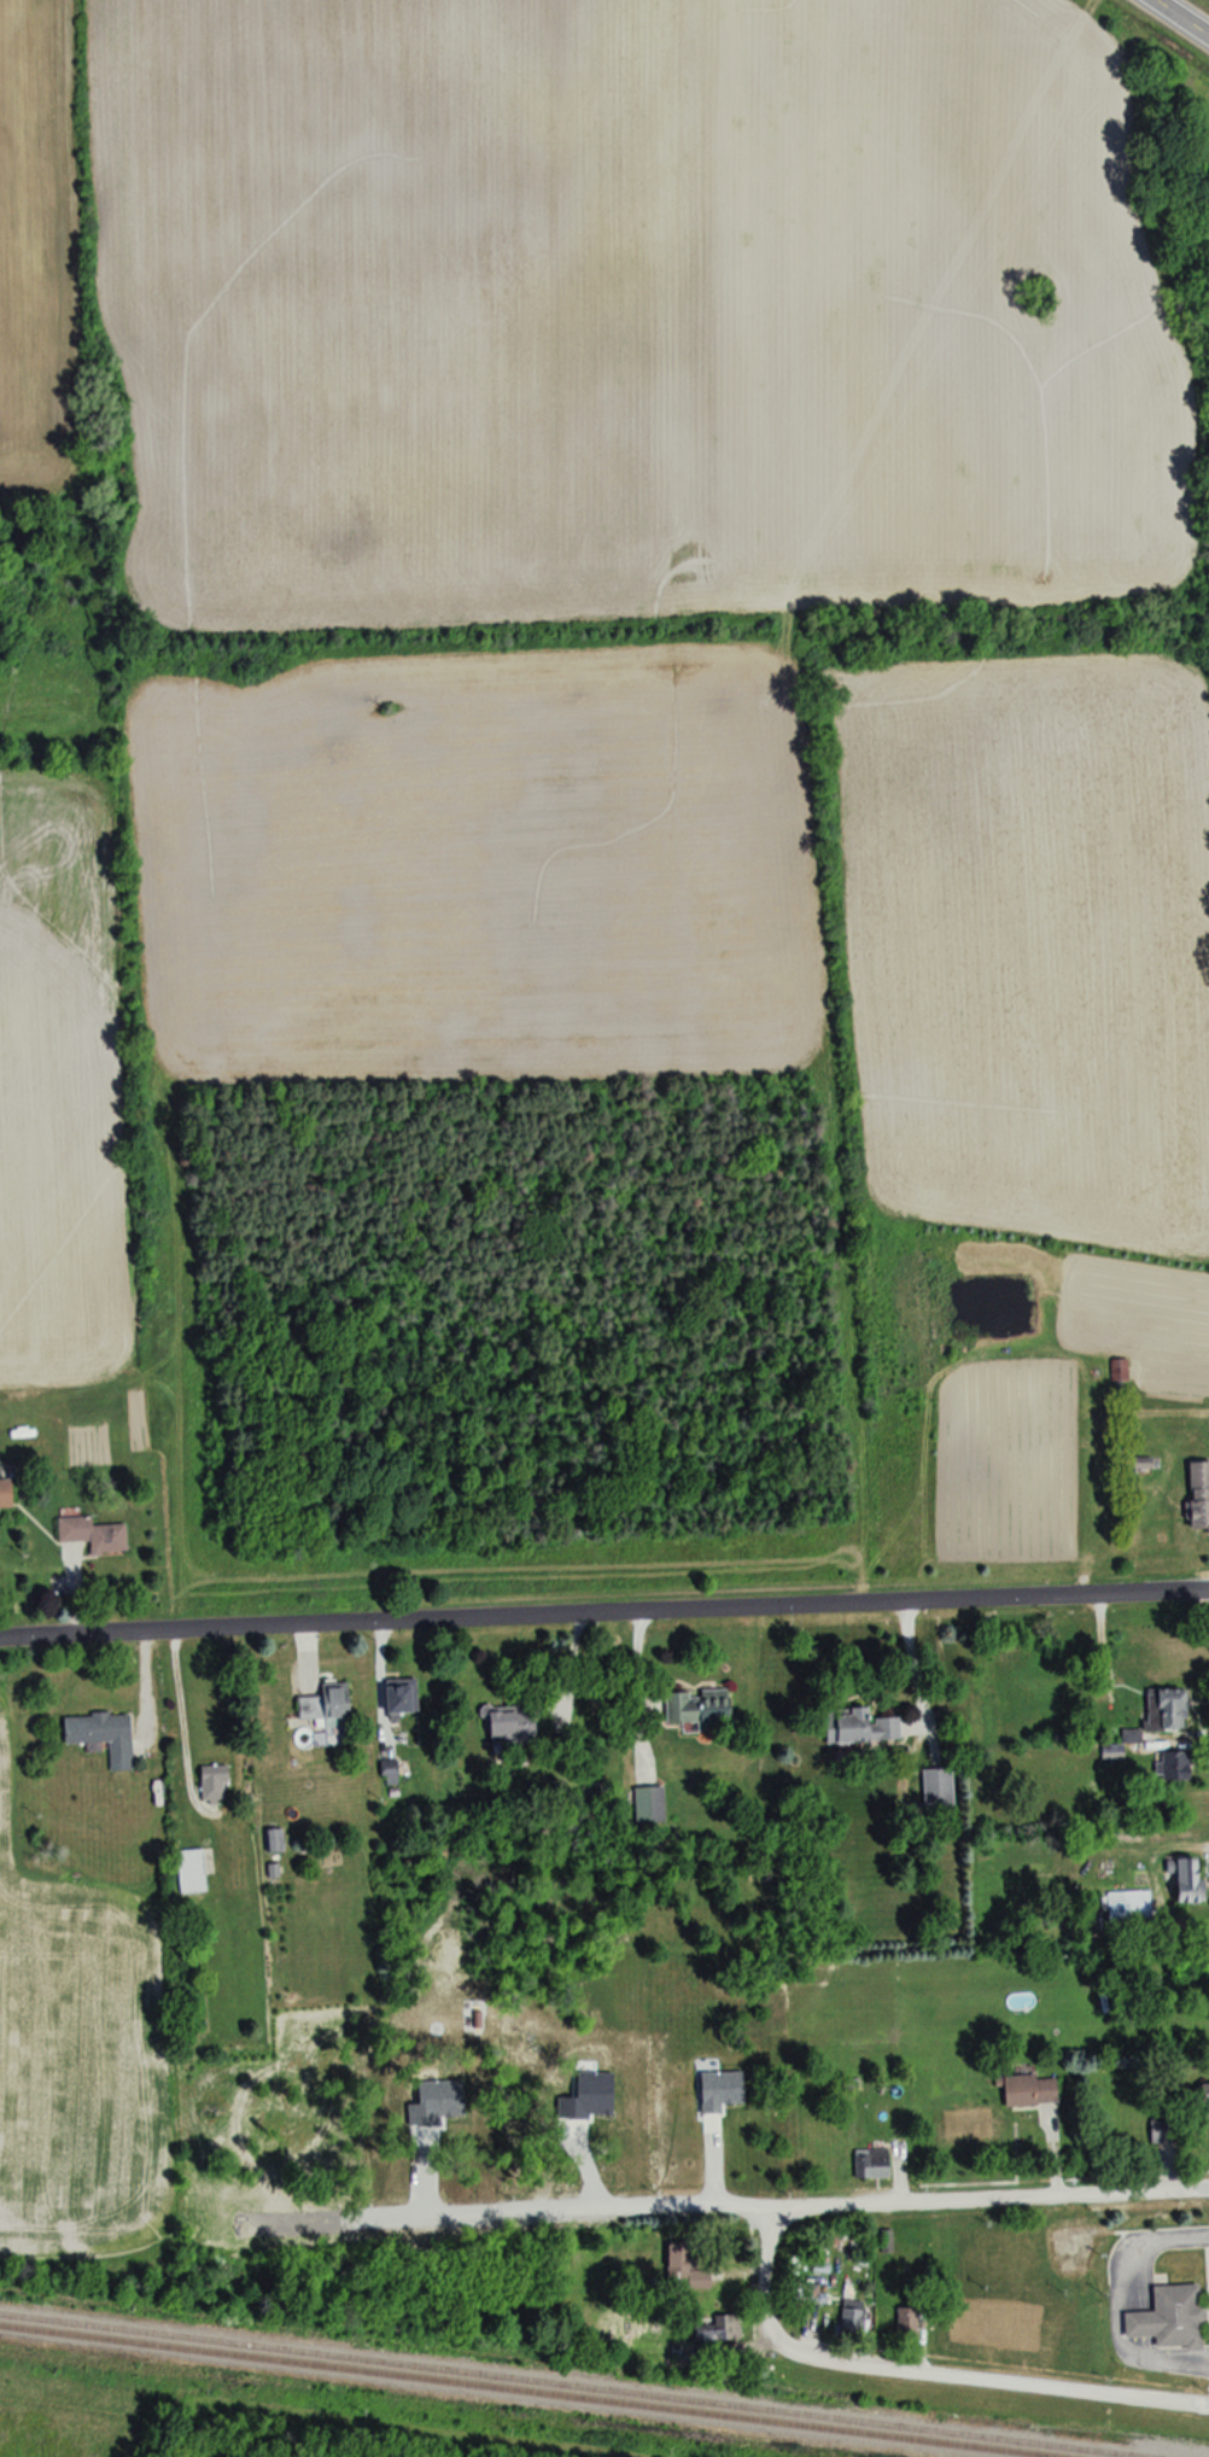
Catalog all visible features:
road: (1185, 14)
building: (1040, 1420)
building: (4, 1493)
building: (1196, 1496)
building: (89, 1534)
road: (603, 1616)
road: (379, 1689)
road: (637, 1692)
building: (396, 1696)
building: (322, 1705)
building: (695, 1706)
building: (1163, 1710)
building: (507, 1724)
building: (858, 1727)
building: (99, 1735)
building: (1173, 1767)
building: (211, 1784)
building: (935, 1791)
building: (647, 1805)
building: (273, 1840)
building: (188, 1872)
building: (1184, 1881)
building: (1125, 1908)
building: (1026, 2089)
building: (1202, 2102)
building: (871, 2164)
road: (998, 2198)
building: (676, 2265)
road: (760, 2284)
road: (1015, 2290)
building: (804, 2293)
building: (848, 2318)
building: (1167, 2319)
building: (726, 2323)
building: (907, 2324)
road: (1001, 2382)
railway: (571, 2385)
railway: (527, 2391)

